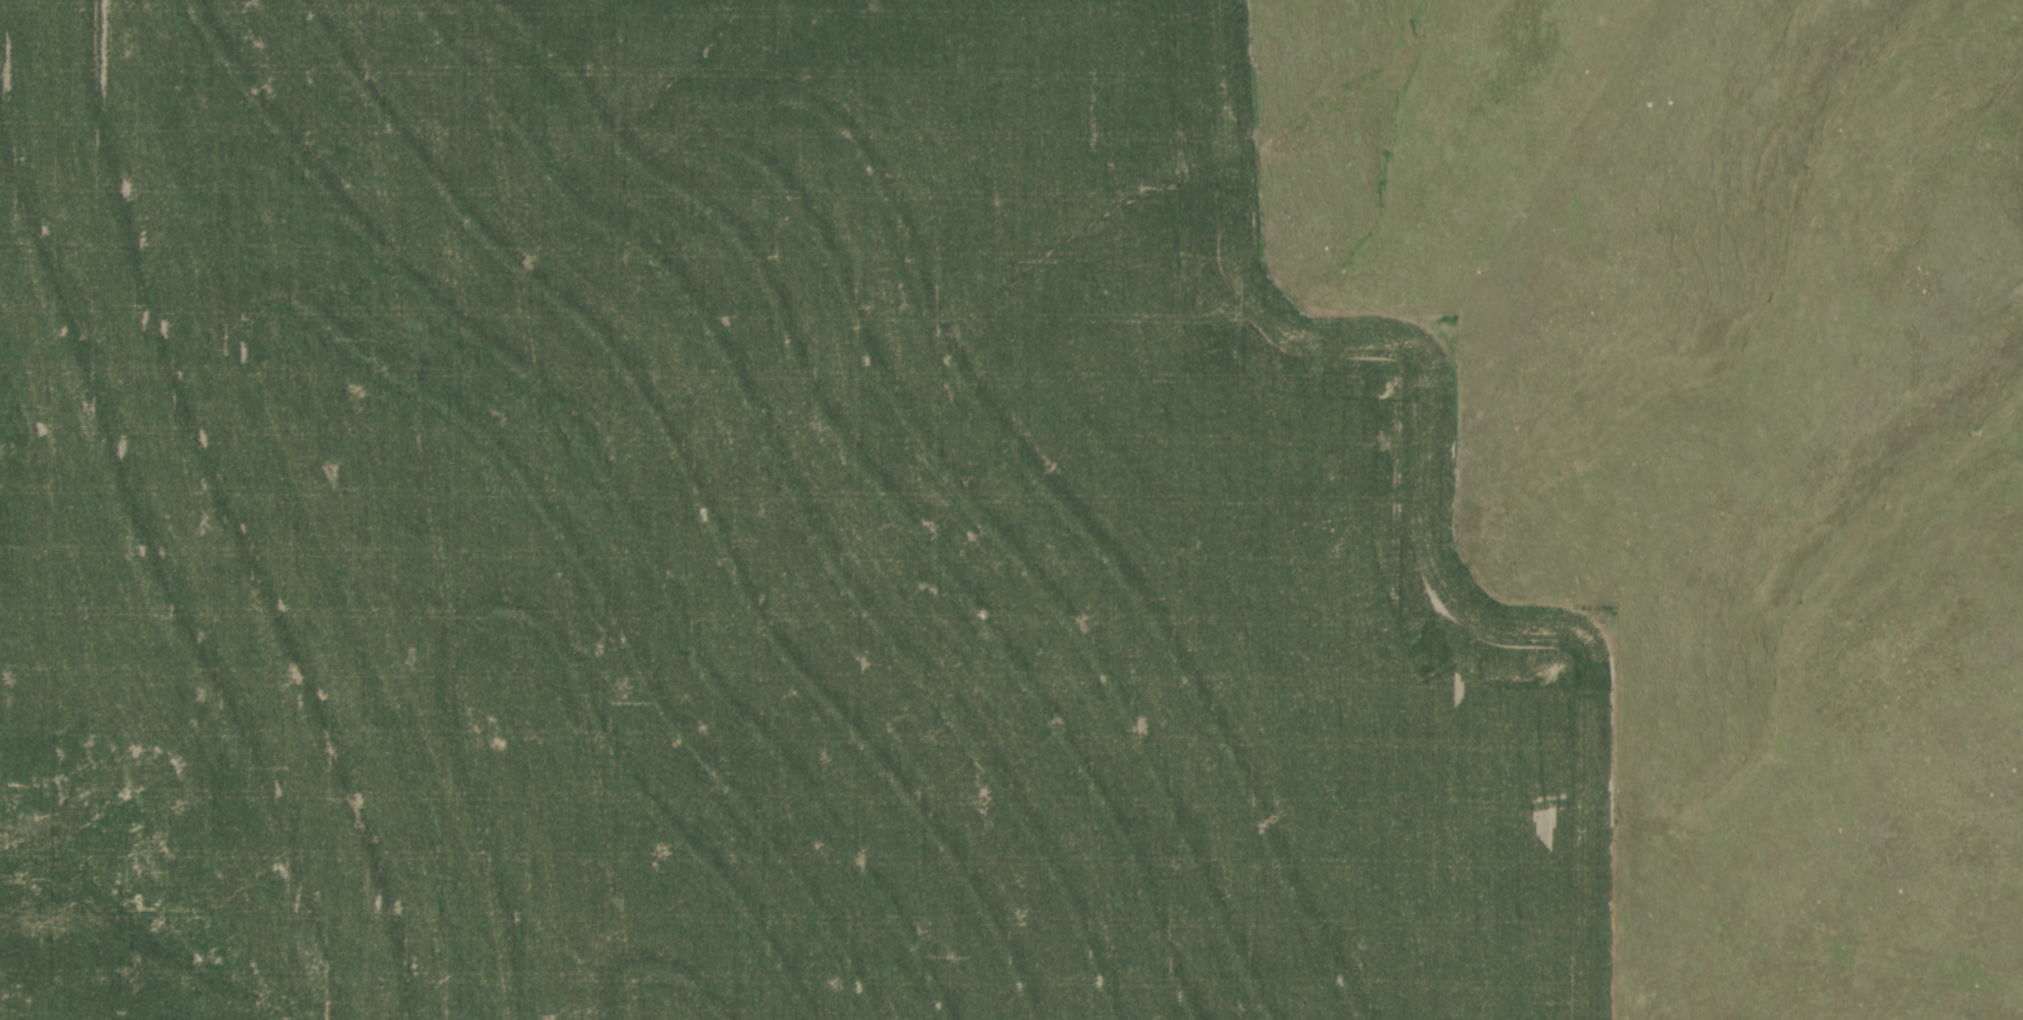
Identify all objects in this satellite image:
crop: (734, 538)

